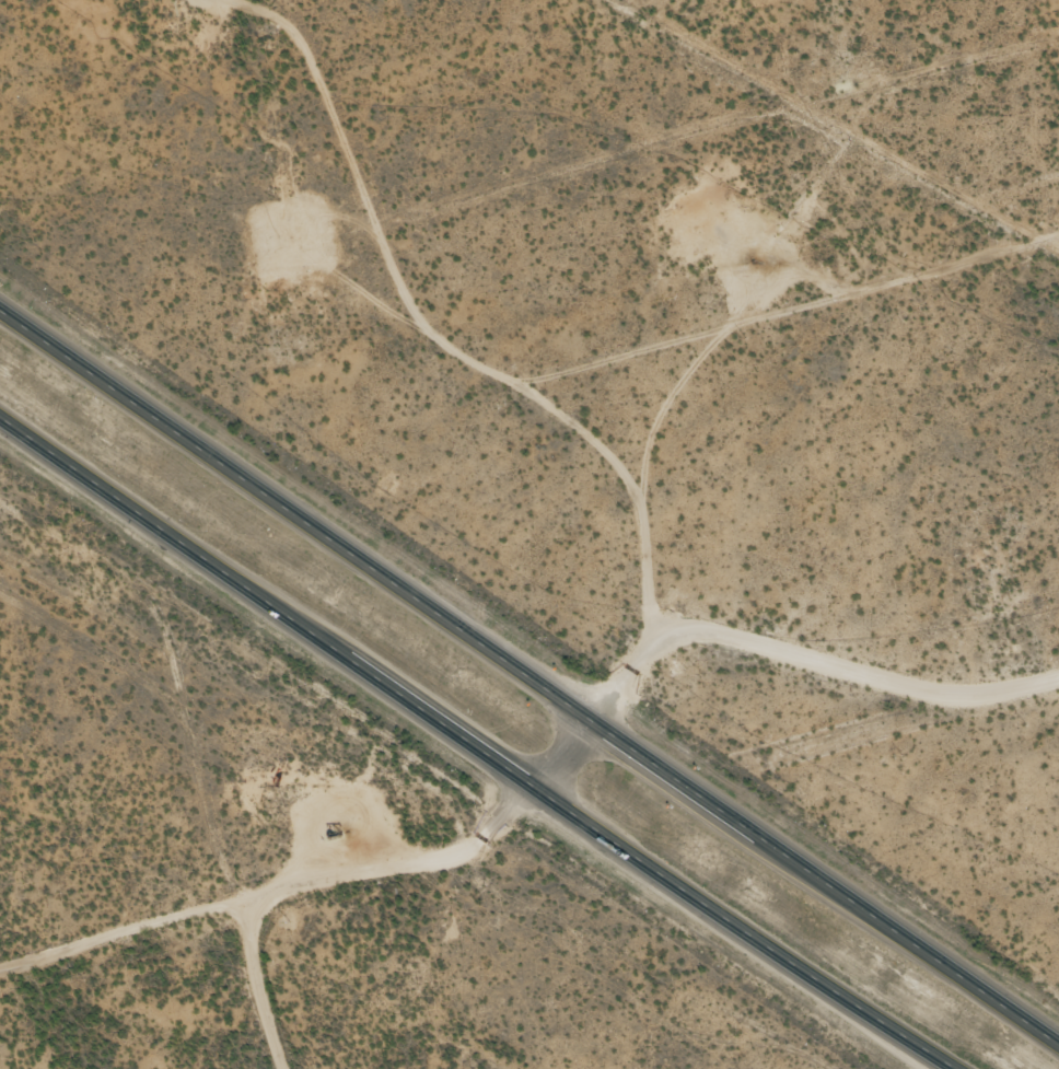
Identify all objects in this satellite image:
road: (806, 654)
road: (529, 676)
road: (476, 746)
road: (565, 755)
road: (277, 892)
road: (271, 984)

